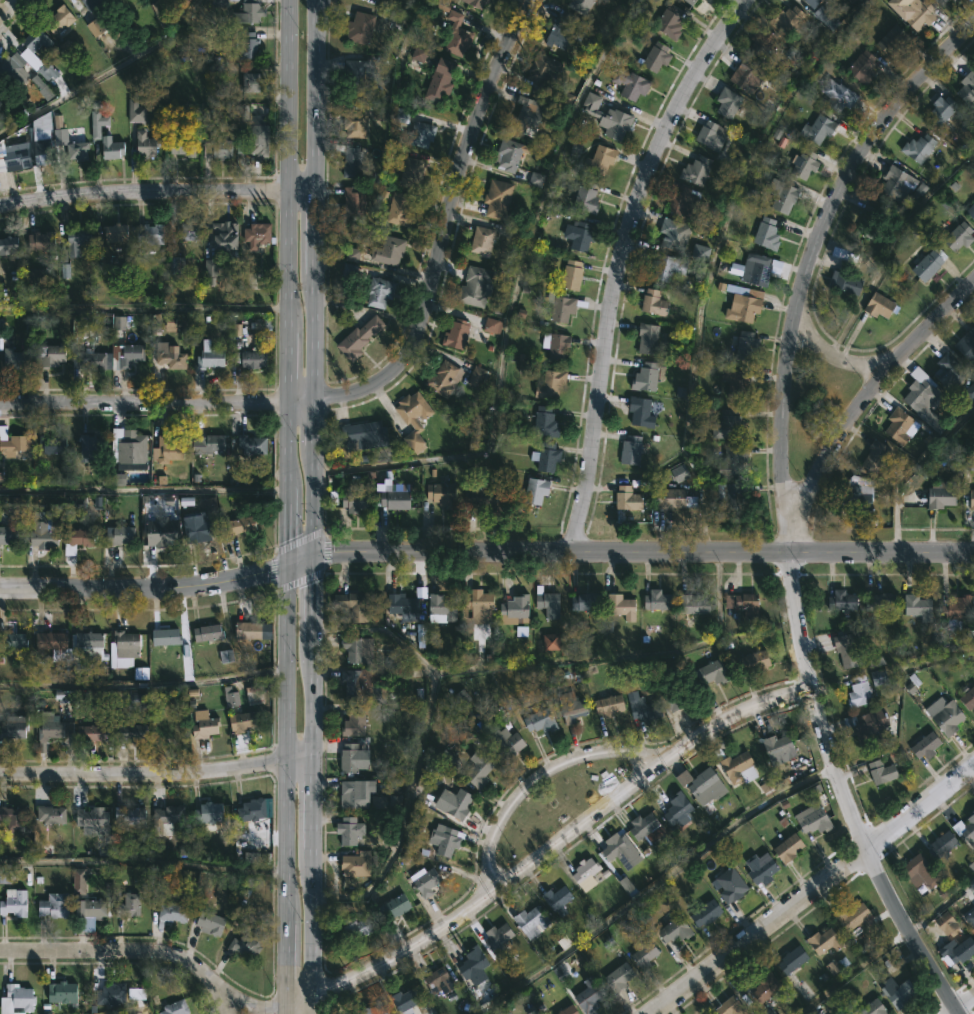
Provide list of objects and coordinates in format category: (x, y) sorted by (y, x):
building: (389, 0)
building: (704, 0)
building: (826, 0)
building: (955, 1)
building: (691, 2)
building: (942, 2)
building: (92, 3)
building: (477, 3)
building: (581, 3)
building: (813, 3)
road: (7, 7)
building: (251, 10)
building: (918, 14)
building: (60, 18)
building: (788, 19)
building: (671, 21)
building: (361, 28)
building: (561, 32)
building: (34, 39)
building: (893, 39)
building: (459, 41)
building: (763, 42)
building: (249, 44)
building: (658, 56)
building: (864, 66)
building: (544, 67)
building: (13, 69)
road: (103, 73)
building: (748, 74)
building: (356, 75)
building: (442, 79)
building: (251, 81)
building: (632, 82)
building: (968, 87)
building: (839, 95)
road: (318, 97)
building: (0, 102)
building: (729, 102)
building: (943, 109)
building: (136, 110)
building: (524, 113)
building: (609, 116)
building: (98, 123)
building: (355, 124)
building: (819, 128)
building: (421, 133)
building: (713, 134)
building: (252, 141)
building: (147, 144)
building: (183, 144)
building: (218, 146)
building: (112, 147)
building: (921, 147)
building: (78, 150)
building: (509, 154)
building: (16, 156)
building: (601, 159)
building: (353, 160)
building: (807, 163)
road: (289, 165)
building: (697, 169)
building: (413, 171)
building: (898, 183)
road: (158, 195)
building: (587, 196)
building: (785, 196)
building: (499, 198)
building: (354, 199)
building: (684, 201)
building: (401, 209)
building: (971, 210)
building: (873, 220)
road: (444, 224)
building: (191, 230)
building: (115, 232)
building: (154, 233)
building: (674, 233)
building: (768, 233)
building: (258, 234)
road: (317, 234)
building: (580, 234)
building: (226, 235)
building: (960, 235)
building: (78, 238)
building: (42, 240)
building: (483, 240)
building: (9, 245)
building: (389, 250)
building: (352, 257)
road: (623, 261)
building: (928, 264)
building: (668, 266)
building: (758, 268)
building: (573, 275)
building: (34, 276)
building: (847, 280)
building: (478, 286)
building: (381, 291)
building: (655, 302)
building: (746, 304)
building: (883, 305)
road: (144, 306)
building: (564, 306)
building: (491, 327)
building: (458, 333)
road: (316, 334)
building: (360, 337)
building: (649, 338)
building: (967, 344)
building: (748, 345)
building: (559, 348)
building: (51, 355)
building: (131, 355)
building: (172, 357)
road: (831, 357)
building: (211, 358)
building: (16, 359)
building: (93, 359)
building: (255, 359)
road: (289, 365)
building: (950, 369)
building: (647, 377)
building: (477, 378)
building: (445, 381)
building: (737, 382)
building: (552, 384)
road: (872, 385)
building: (969, 392)
road: (302, 397)
road: (144, 403)
building: (920, 407)
building: (642, 411)
road: (784, 411)
building: (414, 418)
road: (316, 421)
building: (546, 421)
building: (730, 425)
building: (902, 425)
building: (366, 434)
building: (209, 444)
building: (253, 444)
road: (289, 444)
building: (14, 445)
building: (53, 445)
building: (131, 445)
building: (168, 450)
building: (632, 450)
building: (90, 451)
building: (877, 456)
building: (548, 457)
building: (735, 460)
road: (144, 488)
building: (537, 490)
building: (731, 493)
building: (443, 494)
building: (483, 494)
building: (860, 494)
building: (943, 494)
building: (397, 496)
building: (628, 496)
building: (356, 497)
building: (676, 499)
building: (972, 499)
road: (317, 500)
building: (242, 525)
road: (290, 528)
building: (162, 531)
building: (198, 531)
building: (120, 535)
building: (8, 536)
building: (44, 536)
building: (82, 537)
road: (645, 551)
traffic signals: (318, 554)
road: (304, 560)
traffic signals: (290, 567)
road: (146, 587)
road: (316, 597)
building: (659, 600)
building: (843, 600)
building: (588, 601)
building: (882, 601)
building: (549, 603)
building: (695, 604)
building: (745, 604)
building: (353, 605)
building: (481, 606)
building: (623, 606)
building: (960, 606)
building: (443, 607)
building: (517, 607)
building: (920, 607)
building: (409, 615)
building: (252, 630)
building: (208, 633)
building: (167, 636)
building: (13, 640)
building: (52, 640)
building: (89, 641)
building: (126, 644)
building: (847, 648)
building: (354, 650)
building: (756, 662)
building: (714, 673)
building: (367, 682)
building: (677, 692)
building: (861, 693)
road: (313, 697)
building: (969, 700)
building: (609, 705)
building: (643, 708)
building: (577, 710)
building: (950, 718)
building: (245, 721)
building: (542, 721)
building: (356, 723)
building: (205, 726)
building: (870, 727)
building: (14, 728)
building: (52, 730)
building: (91, 733)
building: (133, 733)
building: (506, 743)
road: (287, 744)
building: (927, 745)
building: (780, 749)
building: (350, 758)
building: (735, 764)
building: (479, 771)
building: (883, 773)
road: (156, 774)
road: (538, 780)
building: (708, 786)
building: (361, 796)
road: (311, 800)
road: (921, 805)
building: (461, 806)
building: (679, 808)
building: (253, 810)
building: (210, 813)
building: (52, 815)
building: (131, 816)
building: (91, 817)
building: (815, 818)
building: (167, 819)
building: (14, 820)
building: (645, 827)
building: (970, 829)
building: (350, 830)
road: (559, 840)
building: (447, 841)
building: (944, 845)
building: (790, 848)
building: (618, 850)
building: (762, 868)
building: (922, 873)
building: (587, 874)
building: (426, 881)
building: (732, 886)
building: (558, 900)
building: (15, 905)
building: (55, 906)
building: (129, 906)
building: (394, 907)
building: (92, 909)
building: (708, 913)
building: (172, 914)
building: (855, 916)
building: (970, 918)
building: (532, 922)
building: (211, 924)
road: (309, 924)
building: (950, 924)
building: (356, 928)
building: (676, 930)
road: (758, 930)
road: (909, 932)
building: (499, 938)
building: (826, 941)
building: (247, 945)
building: (960, 950)
road: (137, 951)
building: (646, 955)
road: (118, 962)
building: (474, 964)
building: (794, 965)
road: (287, 966)
building: (621, 977)
building: (440, 981)
building: (767, 987)
building: (62, 991)
building: (111, 993)
building: (900, 994)
building: (591, 995)
building: (17, 998)
building: (407, 1000)
road: (297, 1005)
road: (962, 1005)
building: (732, 1006)
road: (308, 1007)
building: (176, 1008)
building: (874, 1008)
road: (120, 1009)
building: (375, 1010)
building: (569, 1010)
road: (282, 1012)
road: (286, 1012)
building: (418, 1013)

